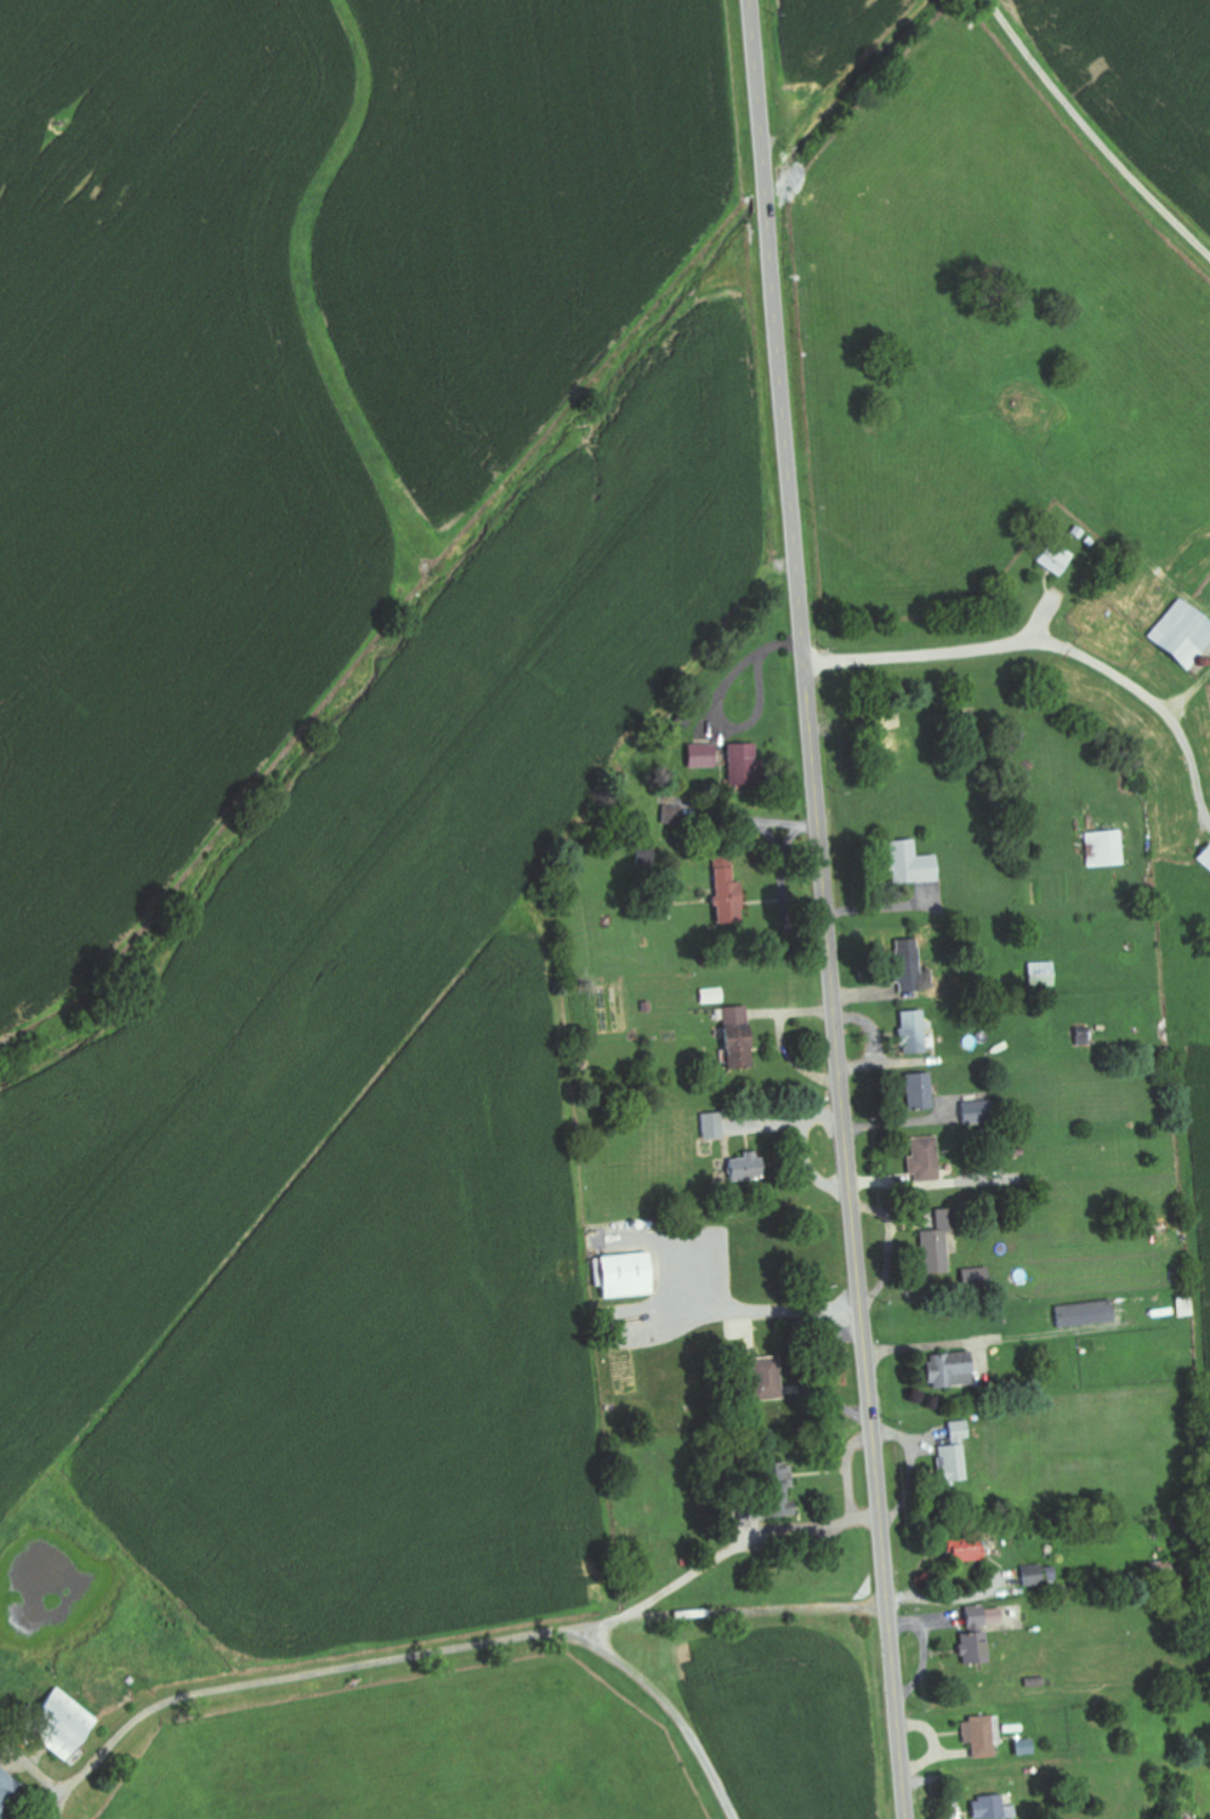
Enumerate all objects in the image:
building: (1057, 561)
road: (1049, 647)
building: (698, 756)
building: (738, 765)
building: (1102, 848)
building: (1204, 856)
building: (909, 863)
building: (725, 889)
road: (824, 909)
building: (1040, 974)
building: (712, 996)
building: (913, 1028)
building: (735, 1036)
building: (919, 1090)
building: (710, 1126)
building: (922, 1158)
building: (743, 1167)
building: (933, 1247)
building: (621, 1275)
building: (1084, 1314)
building: (945, 1370)
building: (762, 1378)
building: (953, 1452)
building: (777, 1489)
building: (964, 1549)
building: (1038, 1575)
building: (983, 1616)
road: (504, 1627)
building: (971, 1648)
road: (665, 1690)
building: (57, 1723)
road: (64, 1735)
building: (979, 1735)
building: (1022, 1747)
building: (7, 1791)
building: (990, 1808)

